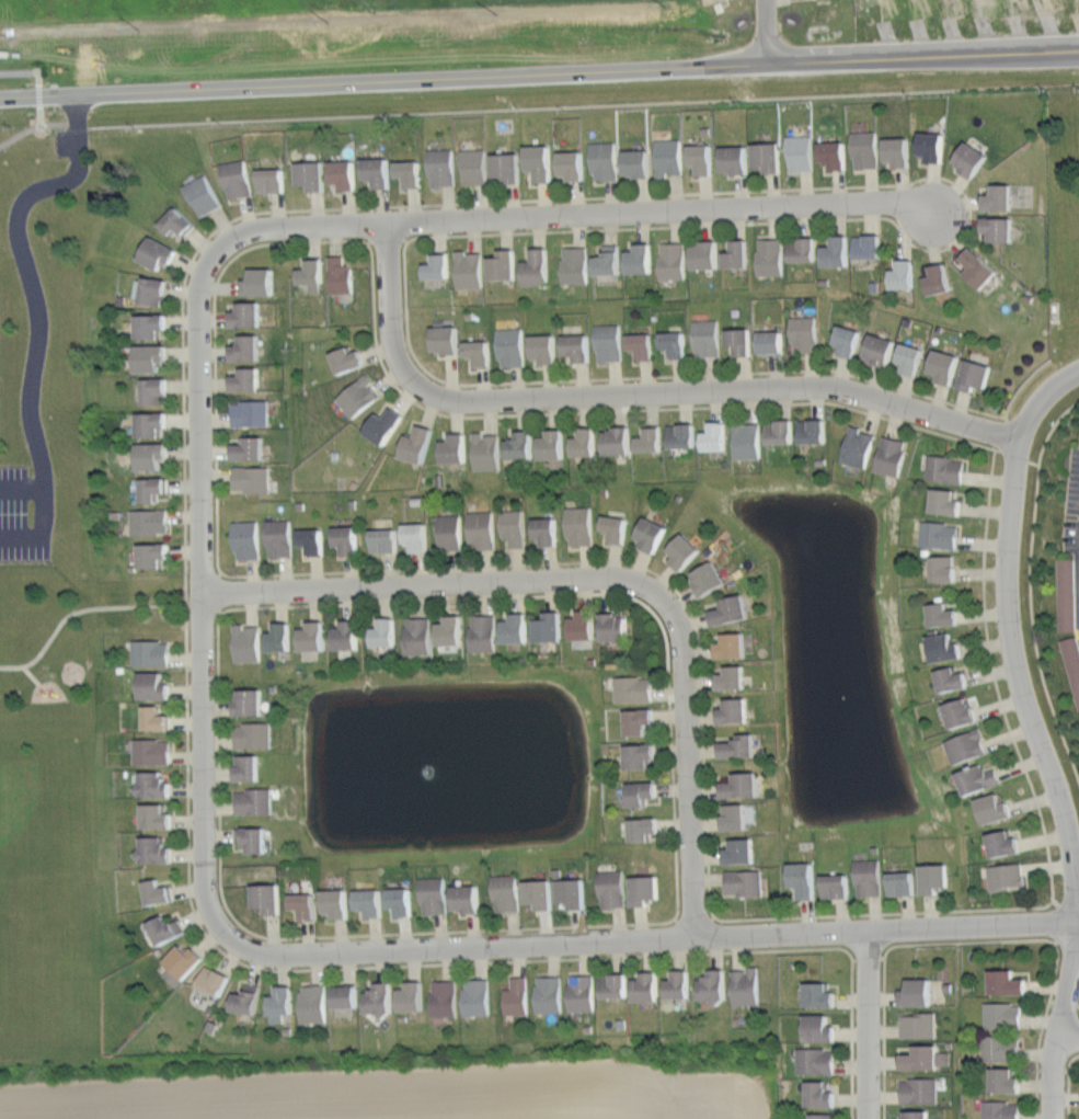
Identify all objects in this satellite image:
crop: (269, 37)
road: (1010, 56)
road: (470, 77)
road: (37, 101)
road: (558, 105)
parking lot: (70, 141)
building: (930, 146)
building: (864, 148)
building: (896, 151)
building: (800, 153)
building: (831, 153)
building: (769, 156)
building: (667, 157)
building: (702, 158)
building: (734, 158)
building: (969, 159)
building: (605, 160)
building: (539, 161)
building: (636, 162)
building: (571, 164)
building: (473, 167)
building: (506, 167)
building: (441, 168)
building: (376, 171)
building: (409, 172)
building: (343, 173)
building: (311, 174)
building: (237, 179)
building: (271, 180)
building: (203, 195)
building: (997, 197)
road: (570, 214)
building: (176, 221)
building: (998, 228)
building: (868, 246)
building: (802, 249)
building: (158, 252)
building: (835, 252)
building: (737, 253)
building: (704, 255)
building: (770, 256)
building: (639, 259)
building: (608, 261)
building: (673, 261)
building: (503, 265)
building: (575, 265)
building: (437, 266)
building: (537, 266)
building: (469, 269)
building: (977, 269)
road: (28, 274)
building: (311, 274)
building: (340, 274)
building: (900, 276)
building: (937, 279)
building: (259, 282)
building: (152, 290)
road: (183, 307)
building: (246, 313)
building: (150, 326)
building: (803, 333)
building: (707, 338)
building: (445, 339)
building: (739, 340)
building: (848, 340)
building: (608, 341)
building: (675, 343)
building: (770, 343)
building: (641, 344)
building: (577, 346)
building: (510, 347)
building: (543, 347)
building: (245, 349)
building: (879, 349)
building: (479, 352)
building: (150, 357)
building: (910, 358)
building: (347, 359)
building: (943, 366)
road: (675, 370)
building: (974, 375)
building: (245, 379)
building: (153, 390)
road: (633, 392)
building: (358, 396)
building: (250, 413)
building: (151, 423)
building: (383, 425)
building: (813, 430)
building: (779, 431)
building: (681, 435)
building: (715, 435)
building: (650, 439)
building: (747, 439)
building: (617, 441)
building: (584, 443)
building: (417, 444)
building: (551, 444)
building: (520, 445)
building: (858, 446)
building: (248, 448)
building: (455, 448)
building: (486, 450)
building: (150, 455)
building: (891, 455)
building: (945, 468)
building: (251, 478)
building: (152, 489)
building: (944, 502)
road: (43, 512)
parking lot: (19, 519)
building: (149, 522)
building: (579, 525)
building: (514, 526)
building: (616, 527)
building: (482, 529)
building: (546, 530)
building: (449, 532)
building: (651, 533)
building: (939, 534)
building: (416, 536)
building: (245, 538)
building: (279, 538)
building: (346, 539)
building: (312, 540)
building: (384, 540)
building: (684, 550)
building: (152, 555)
building: (943, 568)
road: (607, 579)
building: (709, 579)
road: (204, 595)
building: (1068, 596)
park: (45, 605)
road: (89, 609)
building: (730, 609)
building: (941, 614)
building: (582, 625)
building: (613, 626)
building: (549, 627)
building: (516, 628)
building: (450, 630)
building: (484, 631)
building: (384, 632)
building: (346, 635)
building: (418, 635)
building: (312, 636)
building: (279, 637)
building: (246, 642)
building: (732, 644)
building: (943, 647)
building: (151, 653)
building: (1072, 662)
road: (31, 674)
building: (732, 676)
building: (952, 678)
fountain: (835, 681)
building: (152, 685)
building: (633, 689)
road: (1022, 693)
building: (250, 701)
building: (734, 710)
building: (960, 712)
building: (156, 718)
building: (639, 720)
building: (254, 734)
building: (966, 745)
building: (739, 746)
building: (152, 752)
fountain: (458, 752)
building: (639, 754)
building: (246, 766)
building: (977, 778)
building: (742, 784)
building: (157, 785)
building: (641, 791)
building: (254, 800)
building: (994, 808)
building: (735, 815)
building: (158, 817)
building: (643, 829)
park: (34, 835)
building: (255, 838)
building: (1002, 843)
building: (159, 849)
building: (741, 850)
building: (1005, 876)
building: (869, 877)
building: (934, 877)
building: (804, 879)
building: (745, 881)
building: (902, 882)
building: (836, 884)
building: (611, 888)
building: (644, 889)
building: (160, 891)
building: (506, 892)
building: (540, 892)
building: (572, 892)
building: (434, 895)
building: (266, 897)
building: (467, 898)
building: (370, 901)
building: (401, 901)
building: (335, 903)
building: (302, 904)
road: (875, 912)
road: (664, 921)
building: (167, 927)
road: (648, 939)
road: (974, 941)
building: (185, 963)
building: (217, 980)
building: (1009, 982)
building: (713, 983)
building: (679, 984)
building: (616, 985)
building: (747, 985)
building: (646, 986)
building: (583, 993)
building: (550, 994)
building: (918, 994)
building: (346, 995)
building: (412, 995)
building: (445, 995)
building: (518, 995)
building: (381, 996)
building: (822, 996)
building: (250, 998)
building: (479, 998)
building: (283, 1004)
building: (314, 1004)
building: (1005, 1016)
road: (865, 1024)
building: (918, 1026)
building: (822, 1029)
road: (1070, 1035)
building: (1002, 1050)
building: (921, 1058)
building: (816, 1060)
road: (1052, 1075)
building: (1007, 1081)
road: (1069, 1084)
building: (920, 1091)
crop: (402, 1092)
building: (823, 1094)
building: (1078, 1095)
building: (1003, 1109)
building: (825, 1115)
building: (917, 1115)

